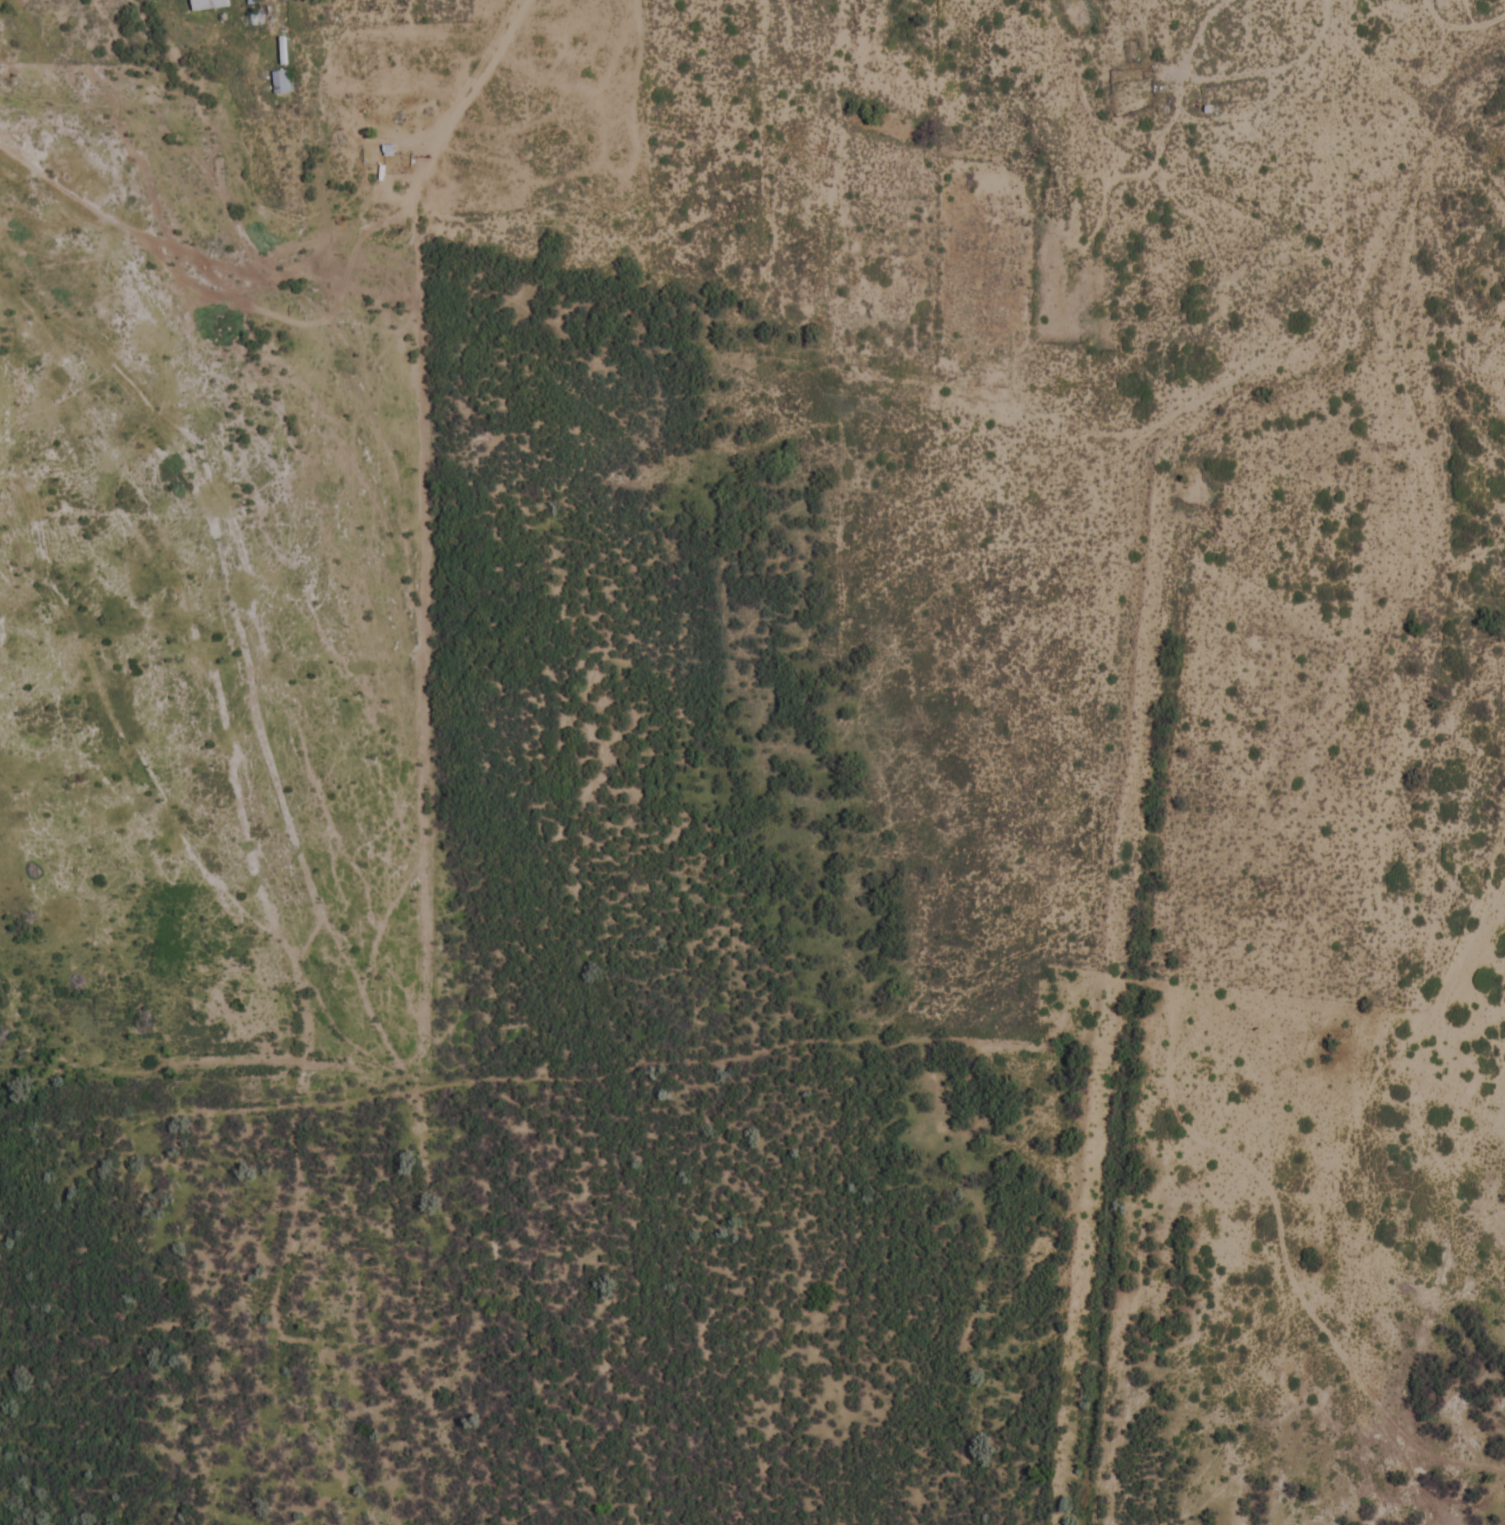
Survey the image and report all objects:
building: (209, 4)
building: (281, 82)
road: (802, 992)

